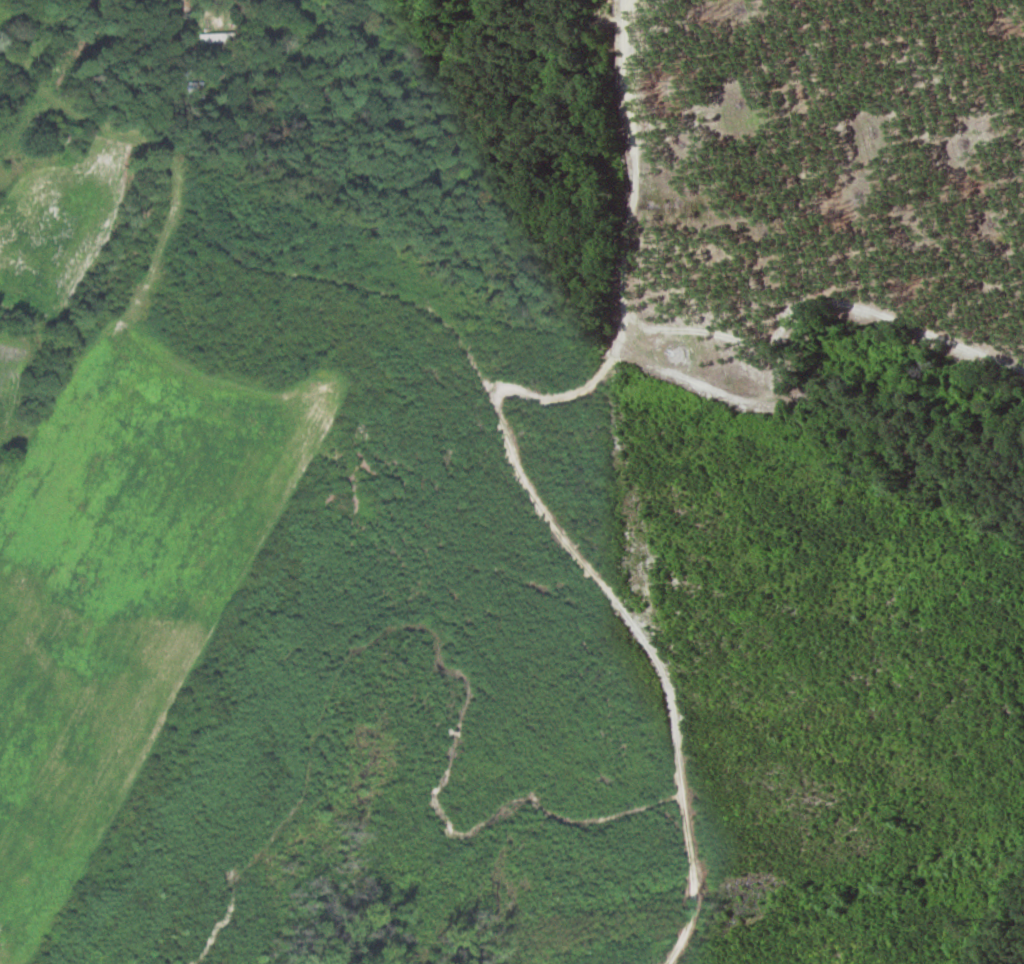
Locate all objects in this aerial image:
road: (88, 20)
building: (214, 37)
building: (193, 88)
road: (28, 165)

